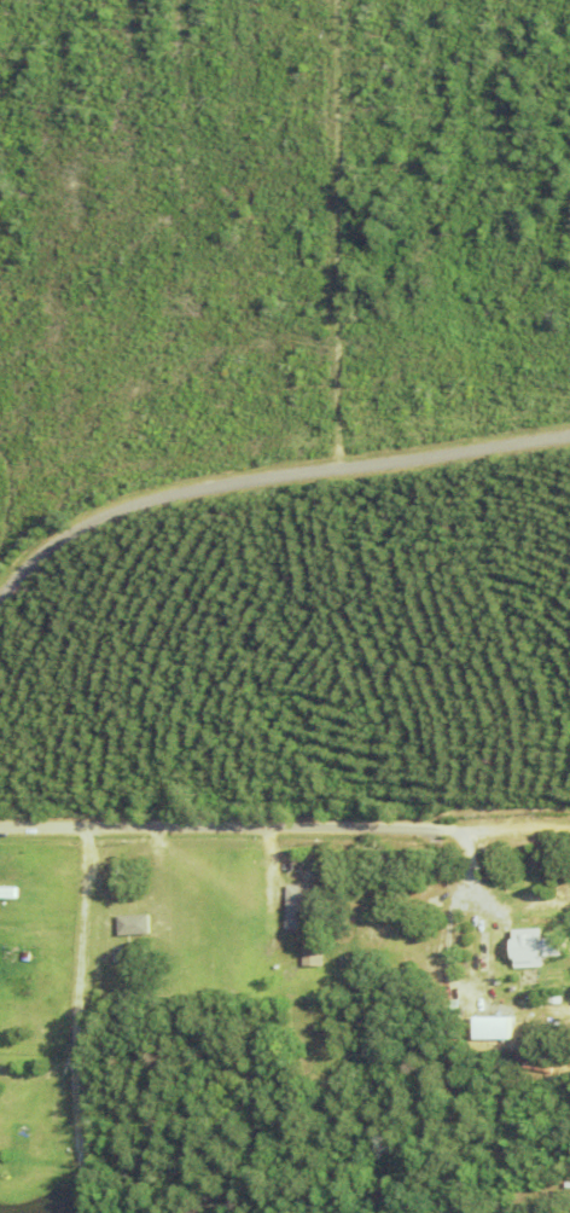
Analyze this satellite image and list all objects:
road: (336, 233)
road: (269, 477)
road: (519, 823)
road: (234, 828)
building: (7, 892)
building: (297, 907)
building: (132, 924)
building: (534, 950)
building: (473, 952)
building: (313, 953)
building: (331, 981)
building: (453, 1012)
building: (494, 1027)
building: (320, 1043)
building: (28, 1068)
building: (492, 1136)

